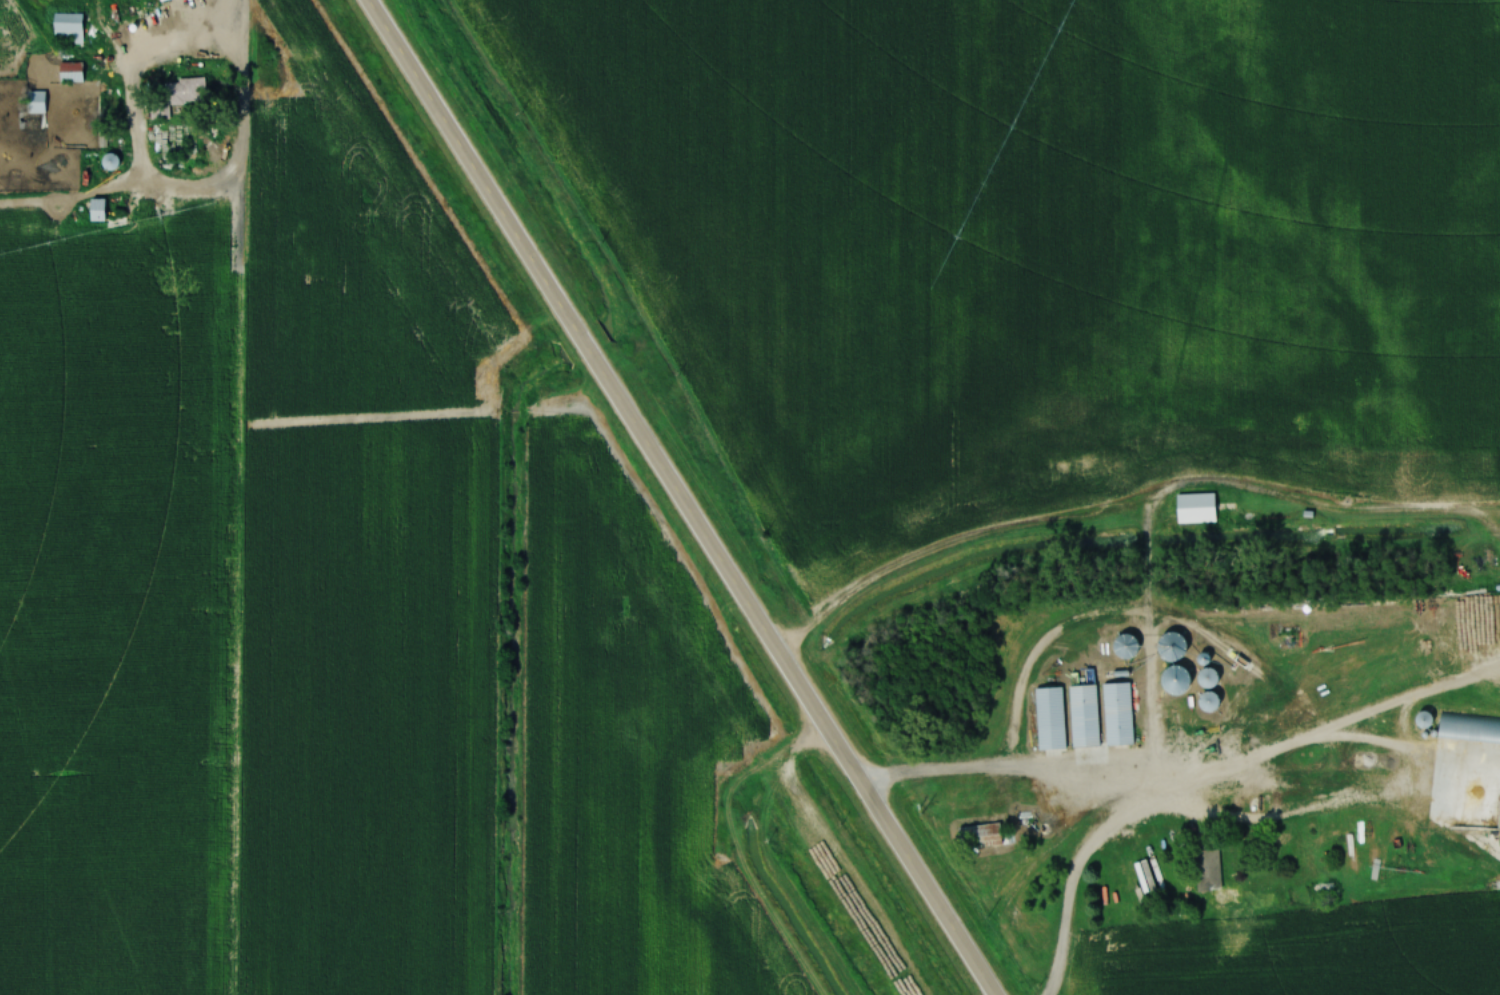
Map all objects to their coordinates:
building: (65, 29)
building: (67, 73)
building: (170, 97)
building: (30, 111)
road: (155, 134)
building: (107, 161)
building: (94, 210)
road: (239, 497)
road: (678, 497)
building: (1192, 509)
building: (1473, 593)
building: (1122, 646)
building: (1168, 647)
building: (1203, 678)
building: (1205, 702)
building: (1467, 727)
road: (1010, 771)
road: (1241, 819)
building: (977, 837)
building: (1211, 880)

